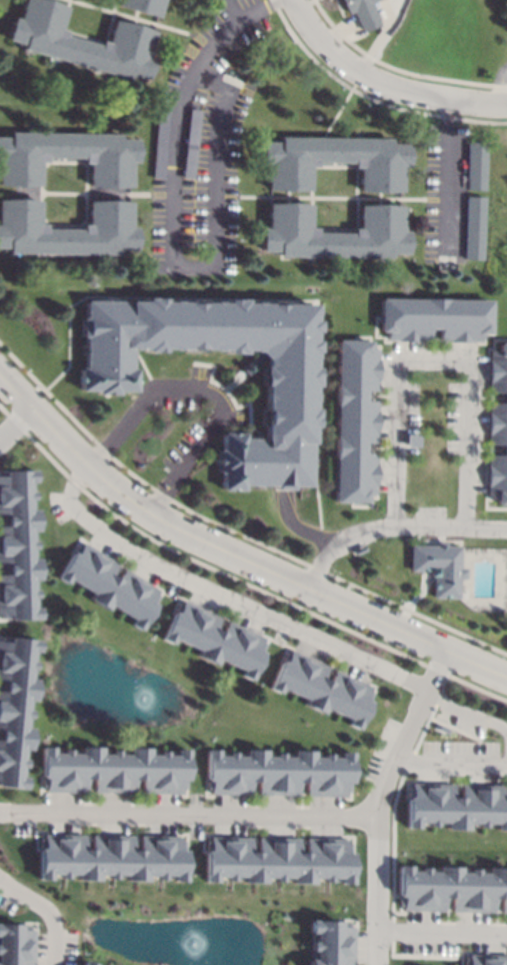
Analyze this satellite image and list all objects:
building: (141, 5)
road: (237, 7)
building: (362, 12)
road: (131, 17)
road: (228, 28)
road: (89, 36)
road: (202, 40)
building: (81, 41)
road: (384, 81)
road: (505, 91)
building: (159, 143)
building: (190, 143)
building: (67, 156)
building: (333, 160)
building: (476, 165)
road: (451, 178)
road: (97, 193)
road: (335, 197)
road: (85, 224)
building: (473, 227)
building: (66, 229)
road: (355, 230)
building: (333, 233)
building: (444, 264)
road: (199, 267)
building: (432, 319)
road: (434, 361)
road: (205, 391)
building: (288, 401)
road: (13, 415)
building: (355, 419)
road: (2, 422)
building: (497, 426)
road: (396, 527)
road: (299, 528)
building: (15, 544)
road: (236, 550)
building: (439, 567)
building: (107, 584)
road: (224, 598)
building: (213, 639)
building: (322, 687)
building: (13, 705)
road: (471, 711)
road: (454, 765)
building: (111, 770)
building: (278, 773)
road: (379, 801)
building: (458, 805)
road: (184, 817)
building: (111, 861)
building: (279, 861)
building: (449, 887)
road: (45, 920)
road: (438, 926)
building: (328, 935)
building: (22, 947)
building: (483, 954)
building: (85, 963)
building: (413, 964)

